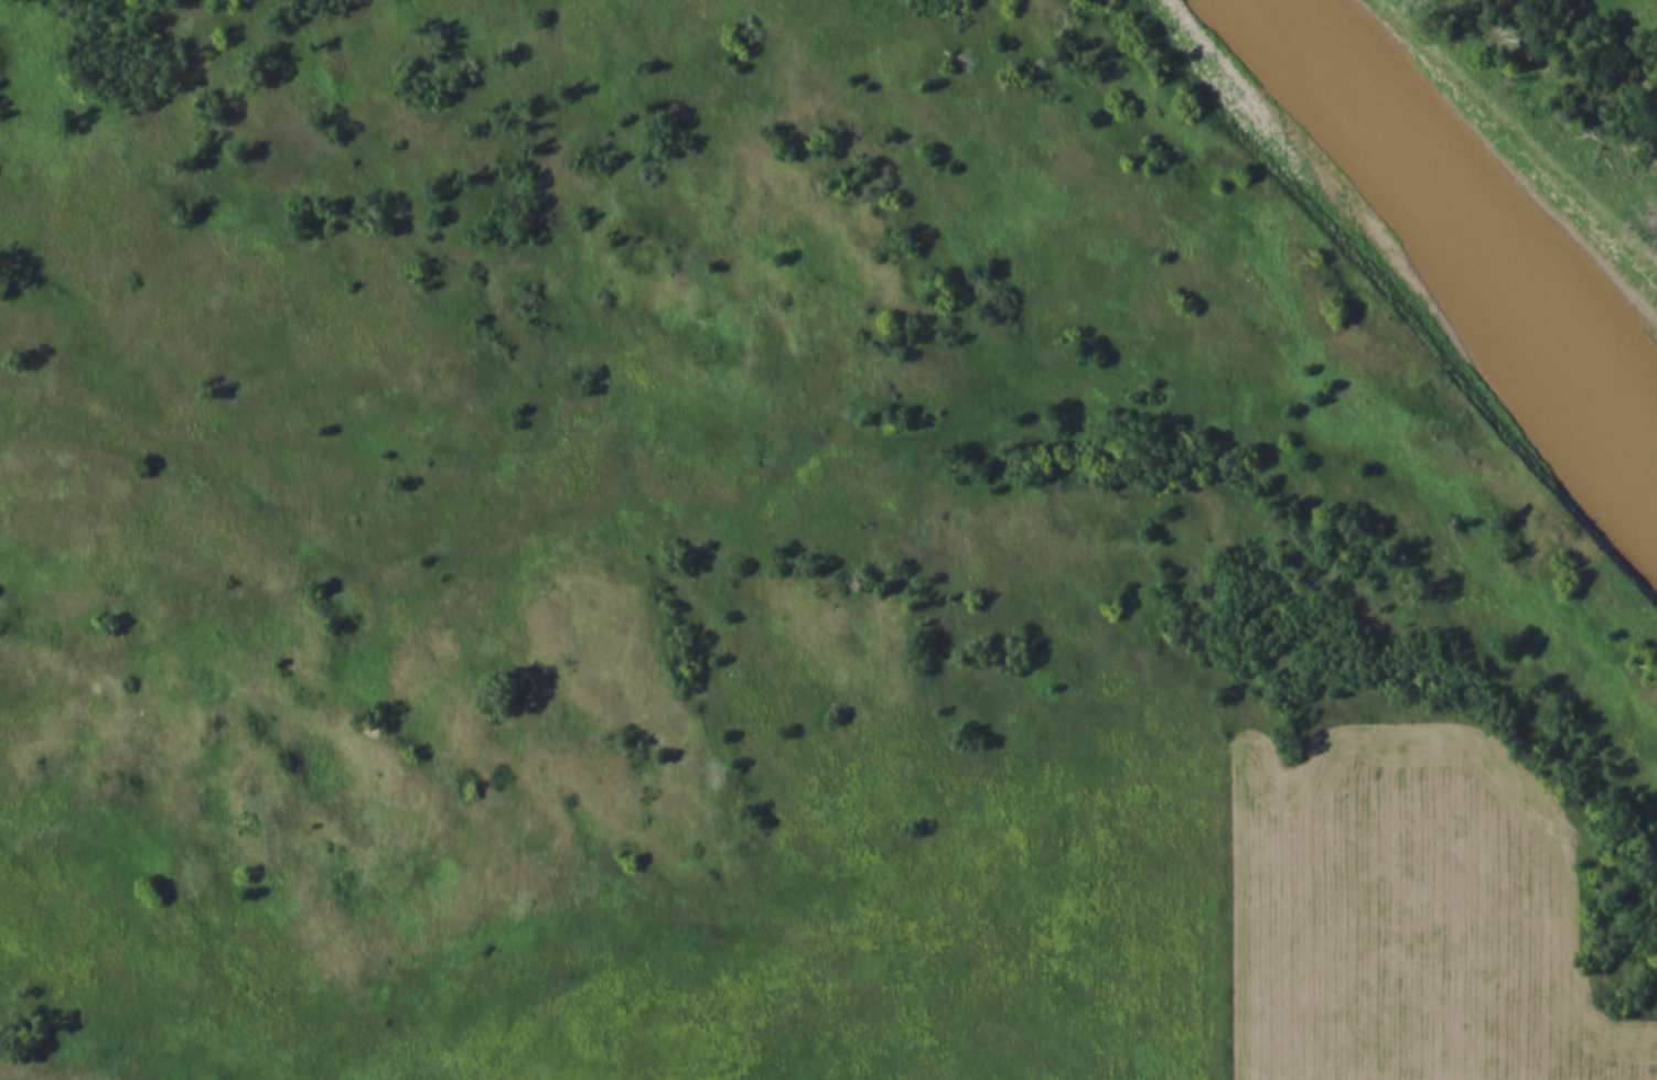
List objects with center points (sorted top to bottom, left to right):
river: (1464, 196)

